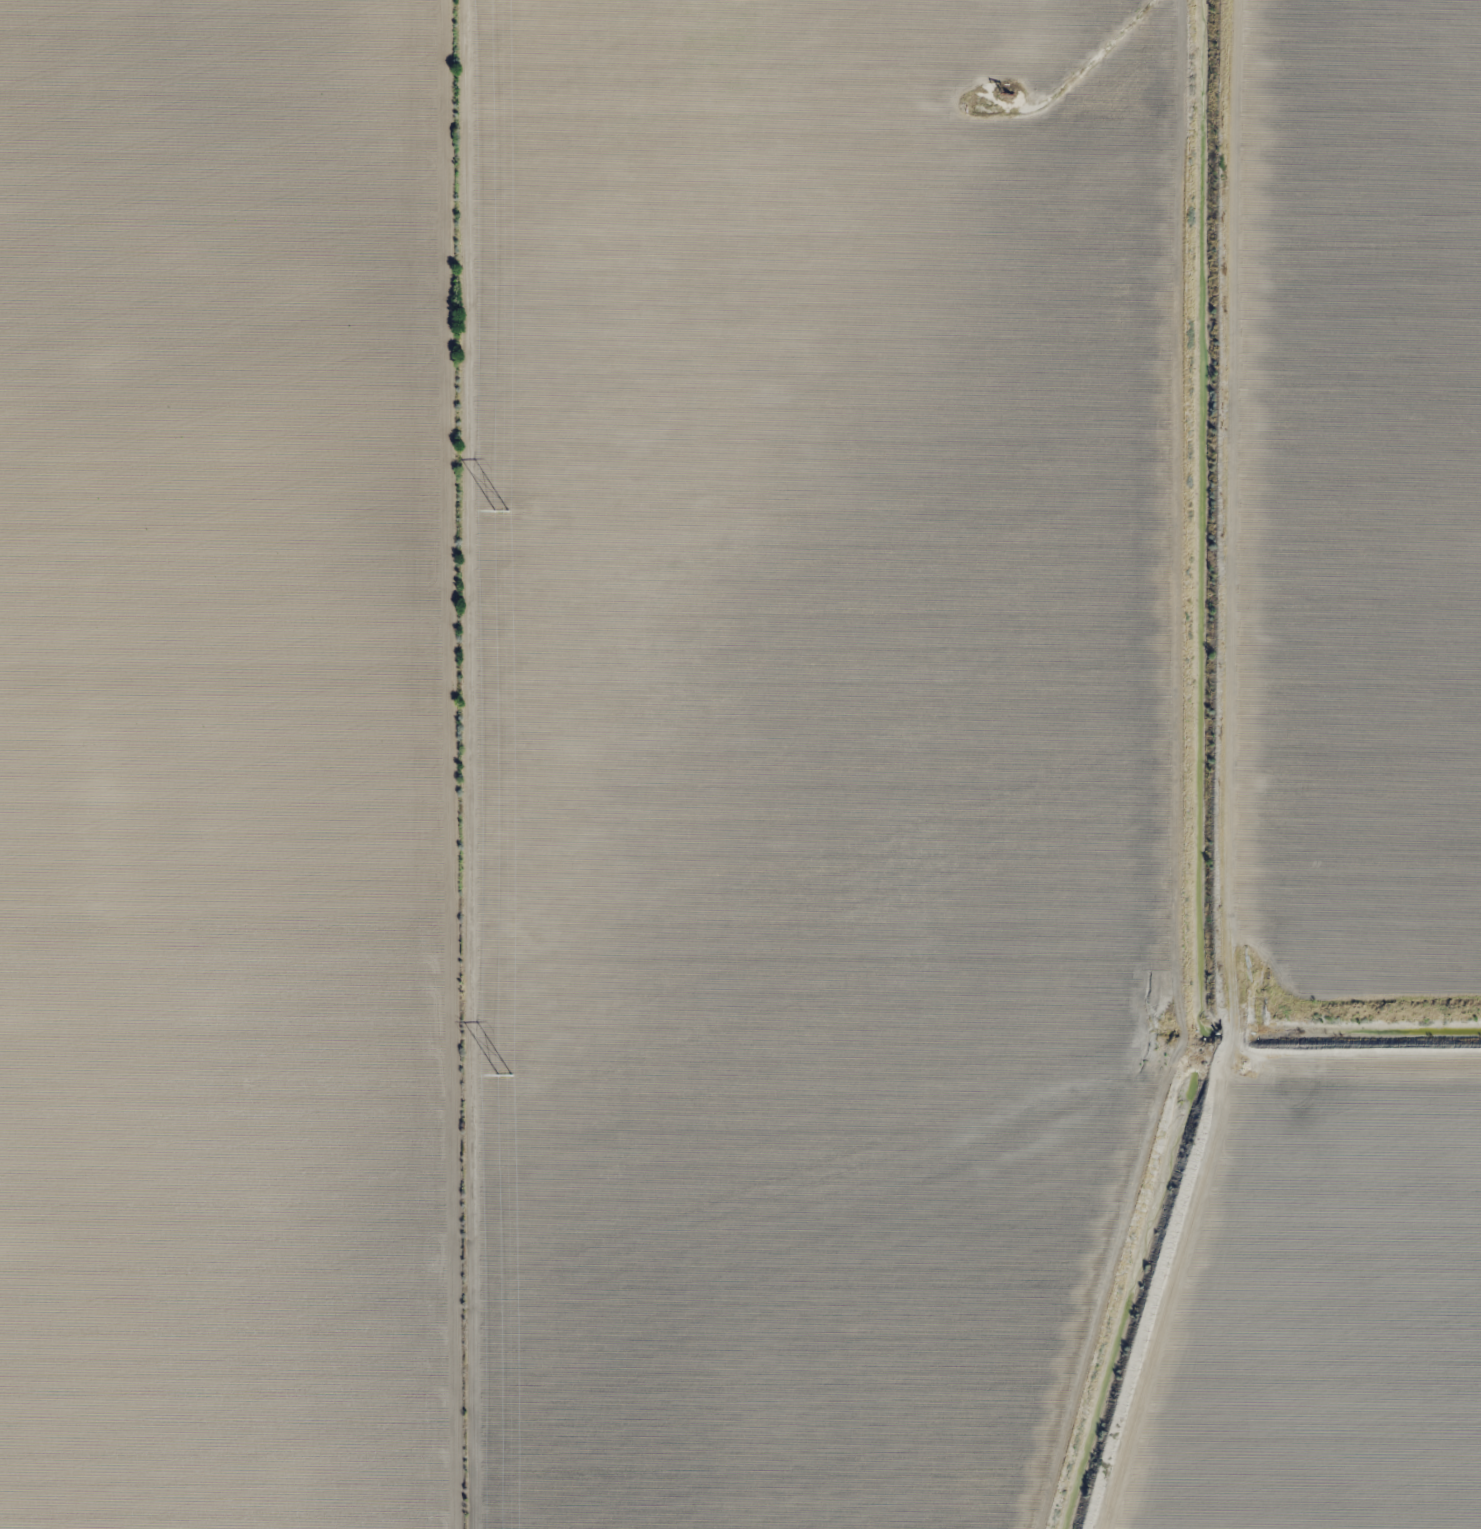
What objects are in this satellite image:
power tower: (501, 512)
power tower: (506, 1078)

